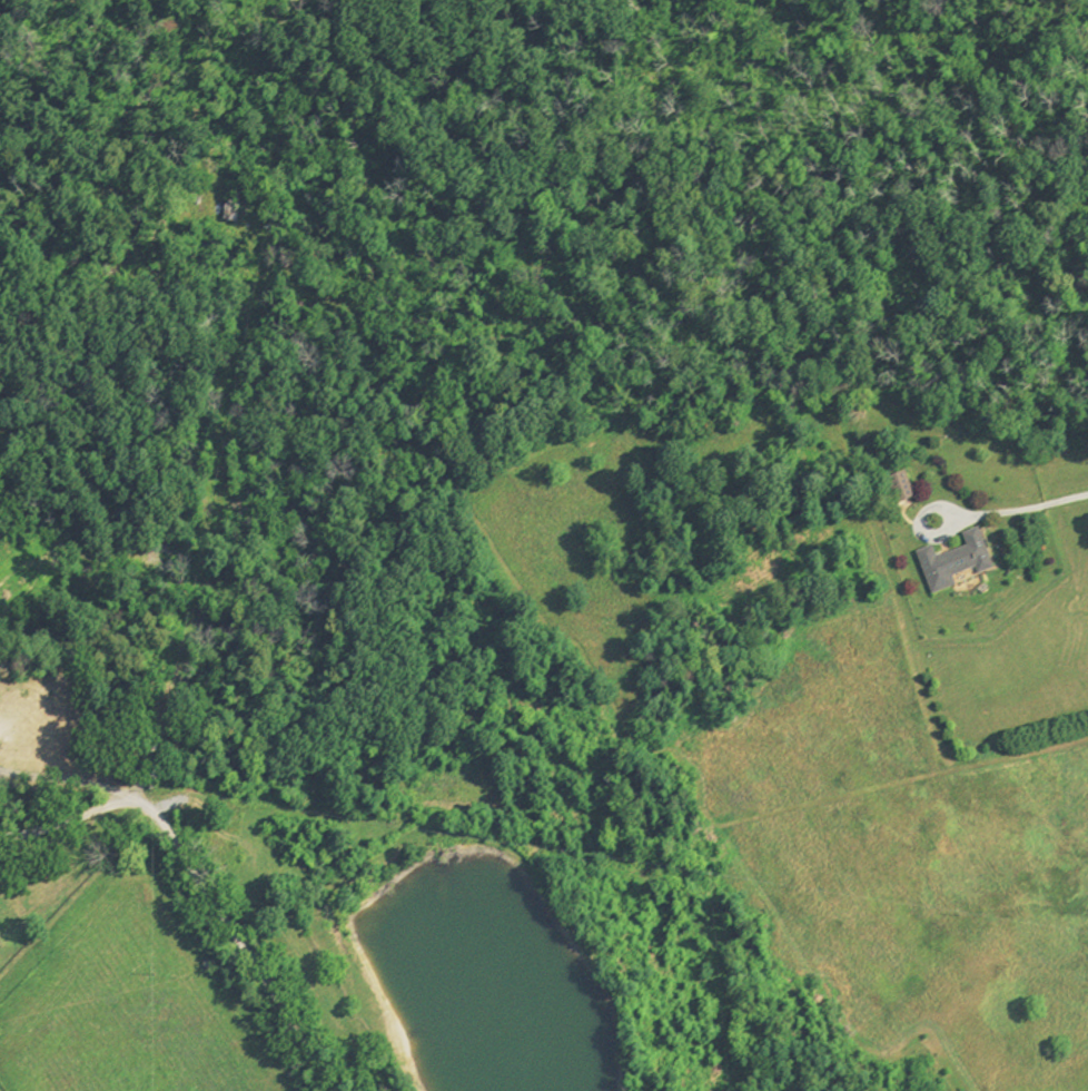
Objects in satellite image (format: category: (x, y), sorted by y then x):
building: (226, 210)
road: (1022, 509)
road: (372, 547)
building: (951, 566)
road: (65, 783)
road: (201, 882)

